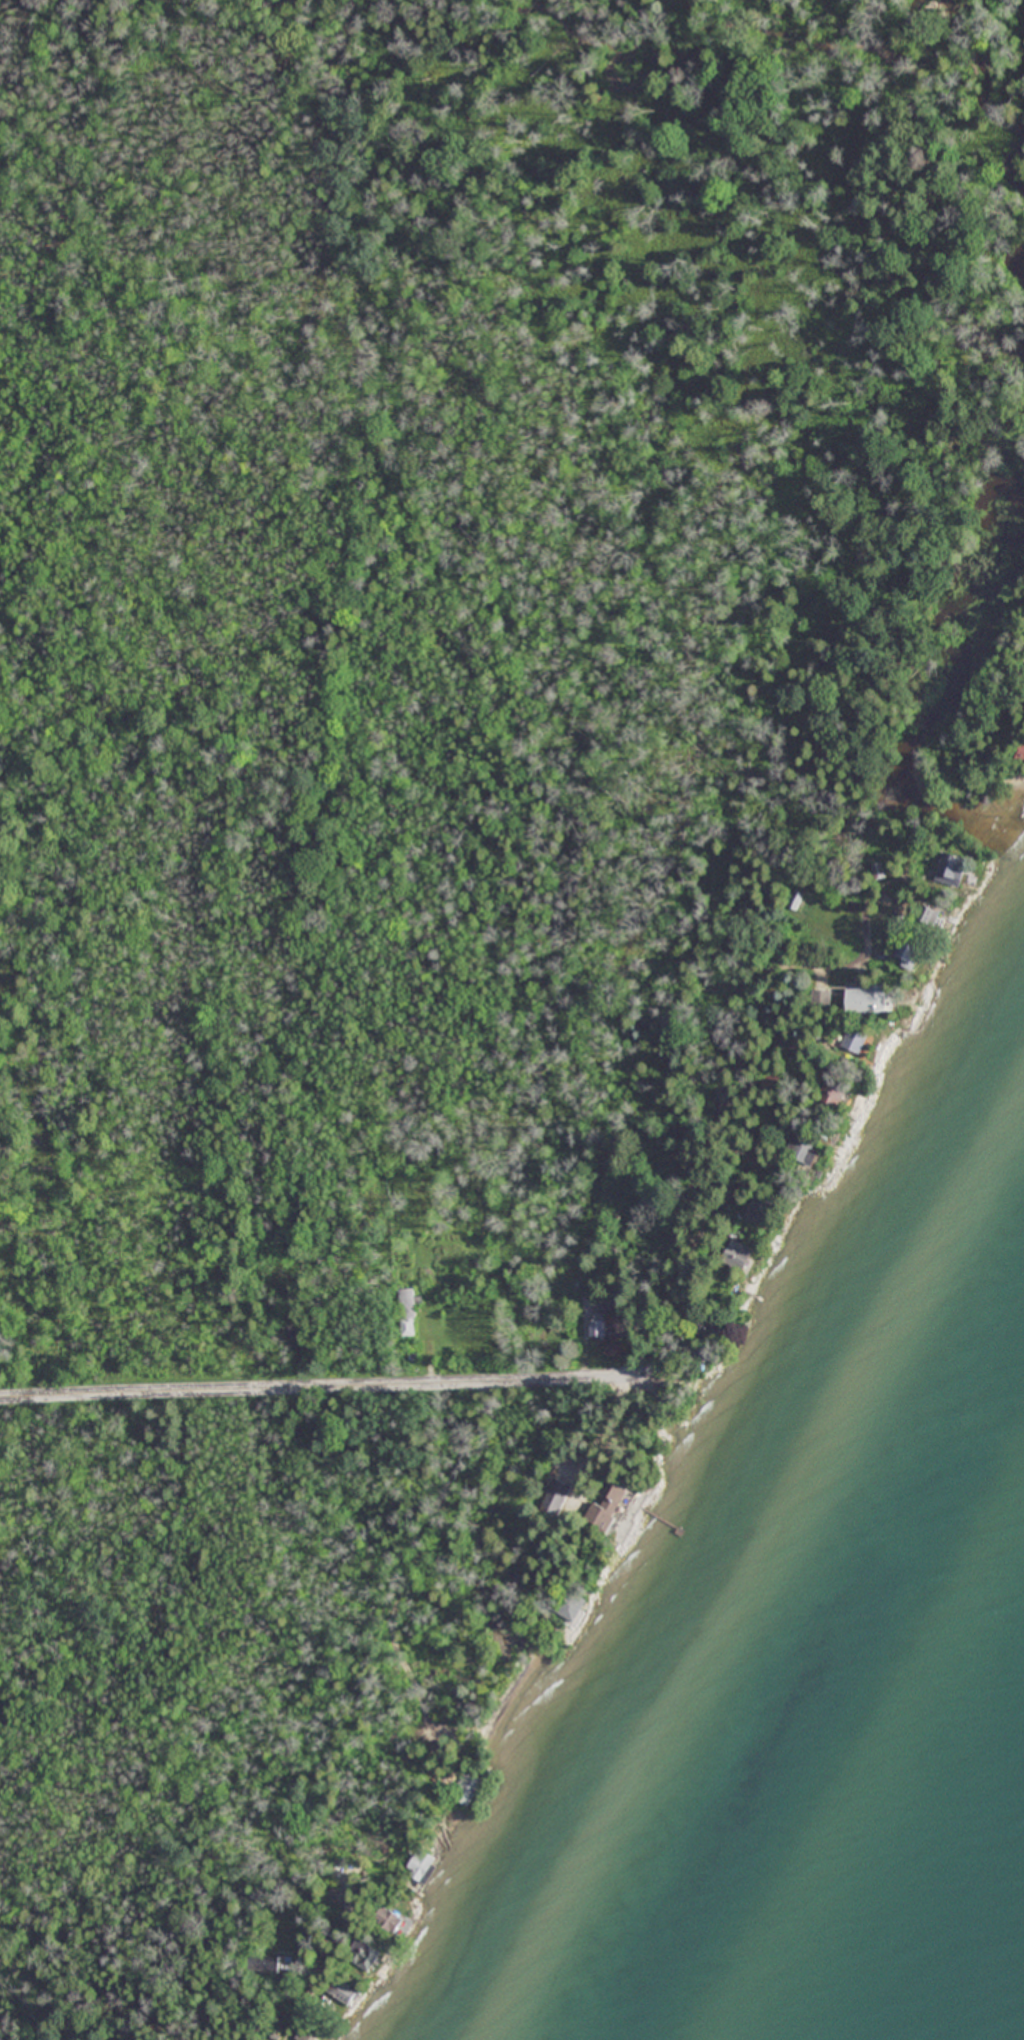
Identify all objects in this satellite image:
road: (1009, 697)
building: (947, 869)
building: (923, 917)
building: (904, 954)
building: (818, 998)
building: (864, 1000)
building: (849, 1040)
building: (830, 1093)
building: (797, 1151)
road: (734, 1176)
building: (729, 1255)
building: (406, 1304)
building: (601, 1327)
road: (335, 1384)
building: (609, 1510)
road: (409, 1574)
building: (568, 1603)
building: (472, 1787)
building: (423, 1864)
building: (394, 1920)
road: (340, 1935)
building: (364, 1953)
building: (343, 1992)

